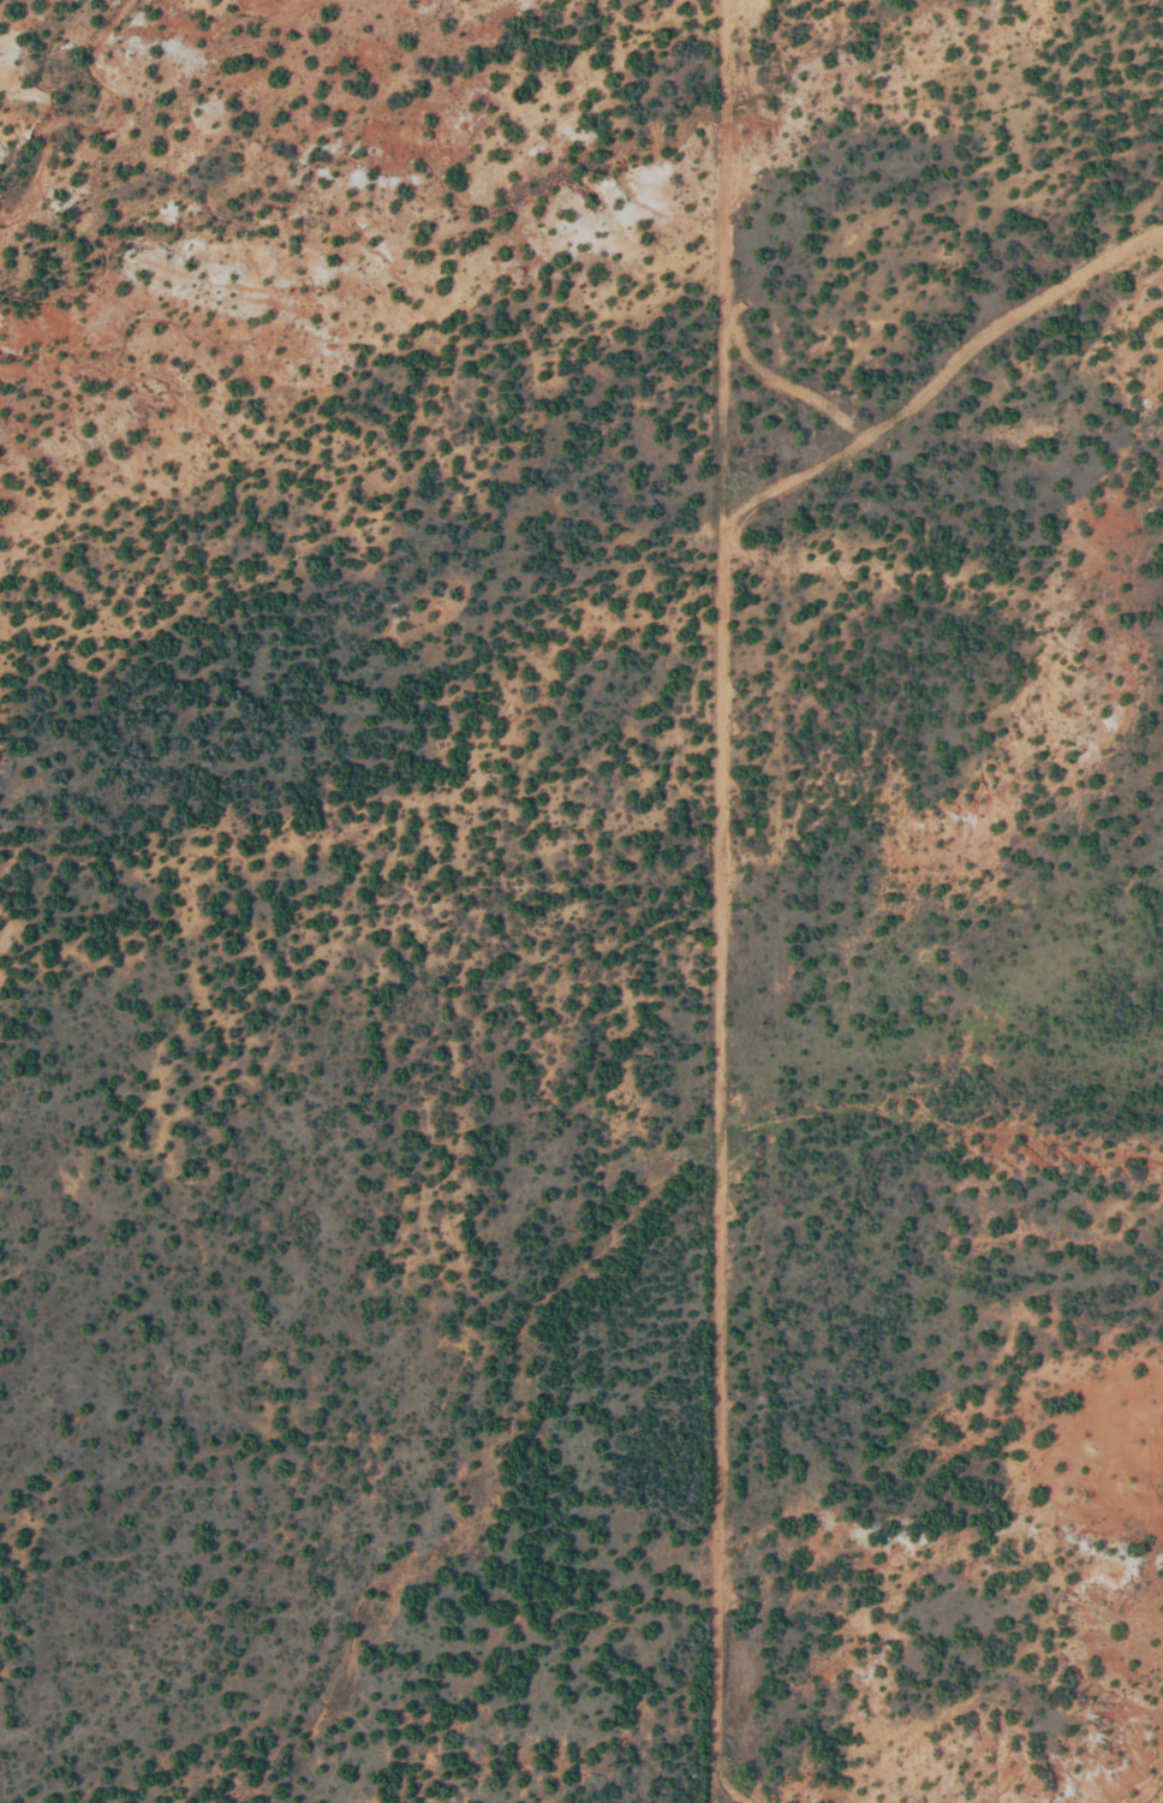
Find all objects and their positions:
road: (668, 820)

